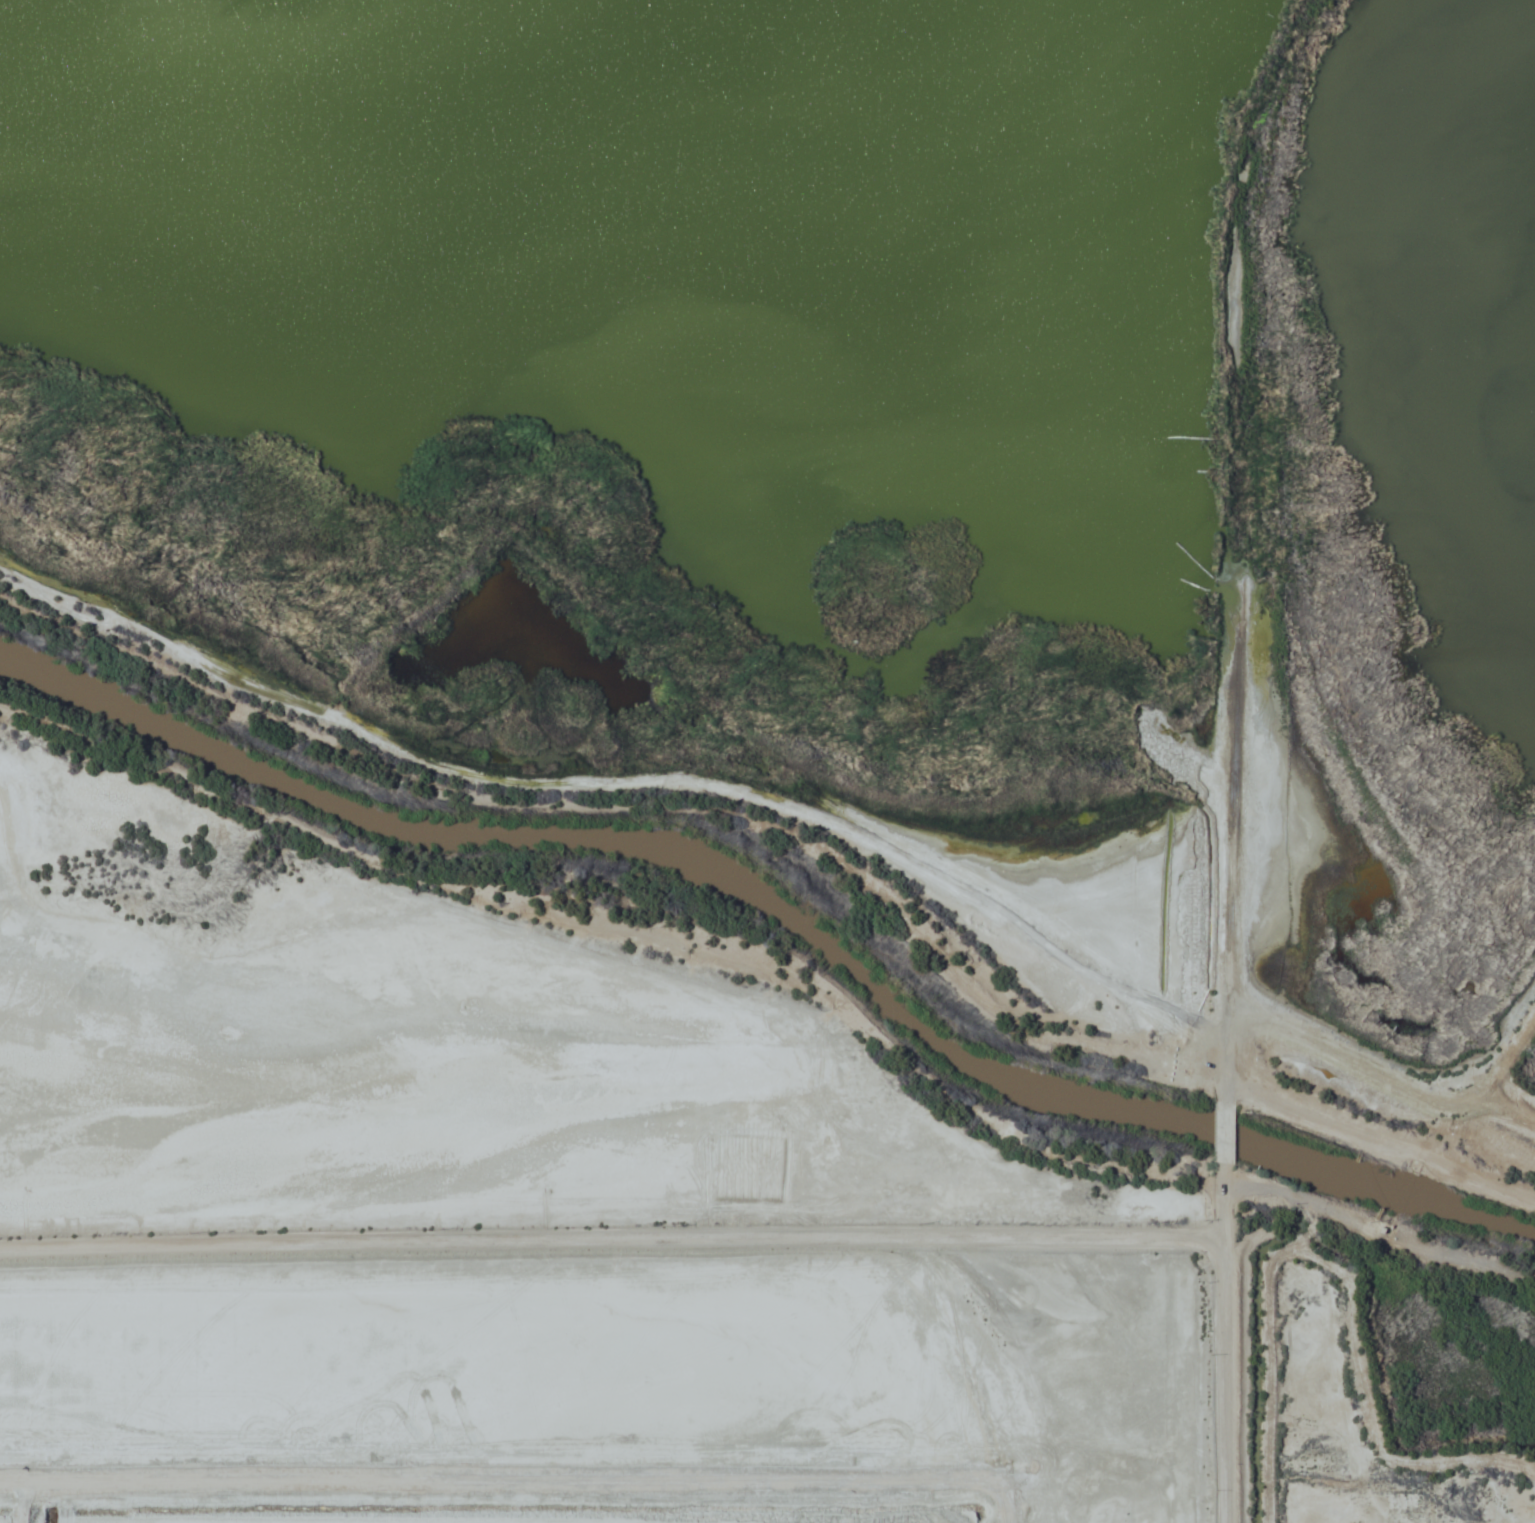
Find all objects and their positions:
road: (634, 805)
road: (1219, 886)
river: (797, 893)
road: (1228, 1128)
road: (1381, 1149)
road: (614, 1240)
road: (1227, 1345)

